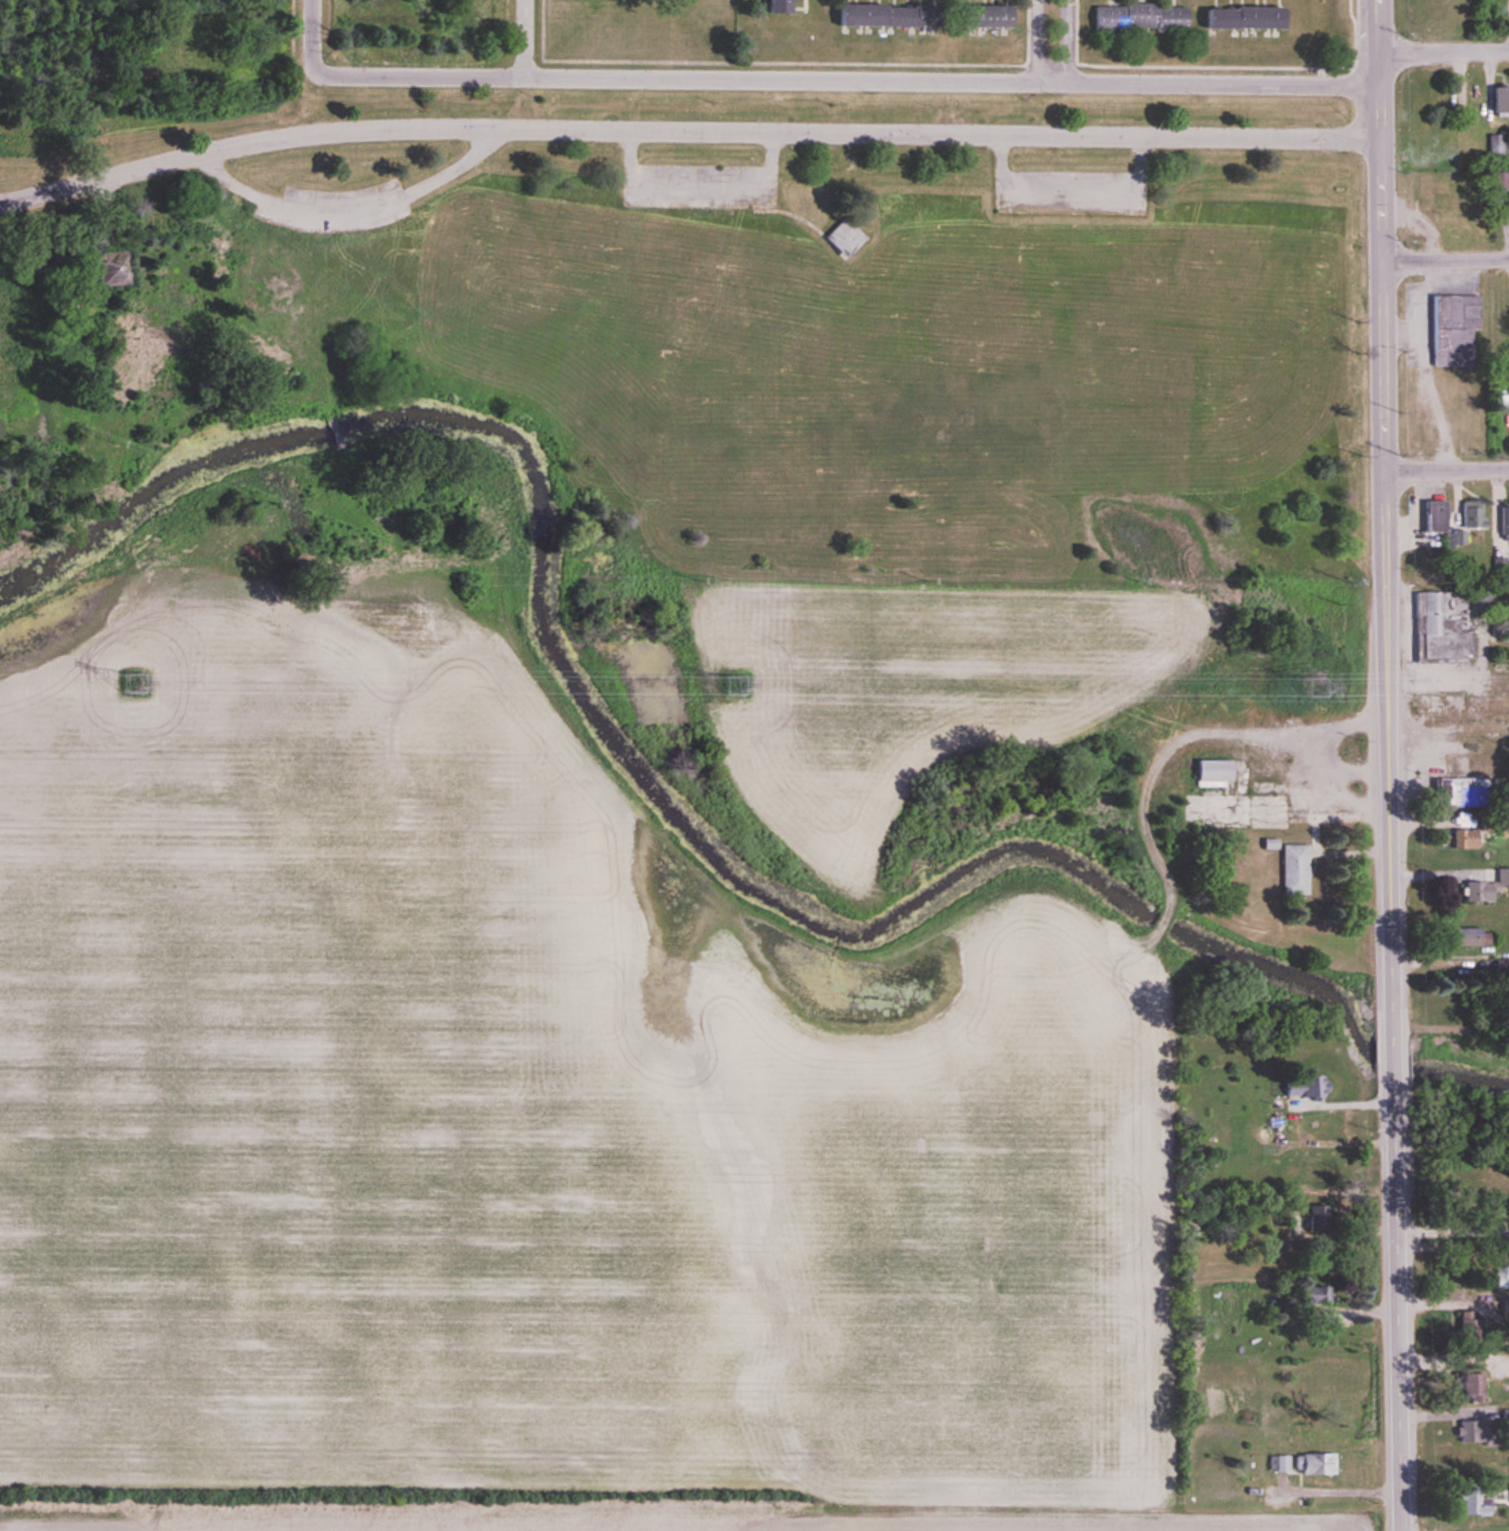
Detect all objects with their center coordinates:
building: (788, 6)
building: (874, 16)
building: (975, 16)
building: (1134, 17)
building: (1239, 18)
road: (314, 35)
road: (526, 39)
road: (1055, 42)
road: (1445, 51)
road: (848, 81)
building: (1473, 97)
building: (1499, 101)
road: (686, 132)
parking lot: (699, 183)
road: (700, 185)
parking lot: (1068, 191)
road: (1072, 195)
building: (1506, 205)
parking lot: (343, 206)
road: (341, 207)
road: (1381, 235)
building: (850, 236)
road: (1445, 261)
building: (1450, 329)
park: (1255, 341)
park: (1073, 348)
park: (708, 350)
park: (895, 356)
road: (1447, 471)
building: (1467, 513)
building: (1428, 515)
building: (1502, 521)
building: (1507, 621)
building: (1421, 624)
power tower: (135, 681)
power tower: (735, 685)
power tower: (1317, 688)
building: (1449, 784)
building: (1463, 839)
building: (1291, 870)
building: (1475, 891)
building: (1462, 937)
road: (1392, 1001)
building: (1301, 1087)
road: (1347, 1103)
road: (1452, 1231)
building: (1309, 1295)
building: (1466, 1388)
road: (1443, 1413)
building: (1503, 1419)
building: (1468, 1432)
building: (1303, 1463)
building: (1507, 1495)
building: (1472, 1503)

